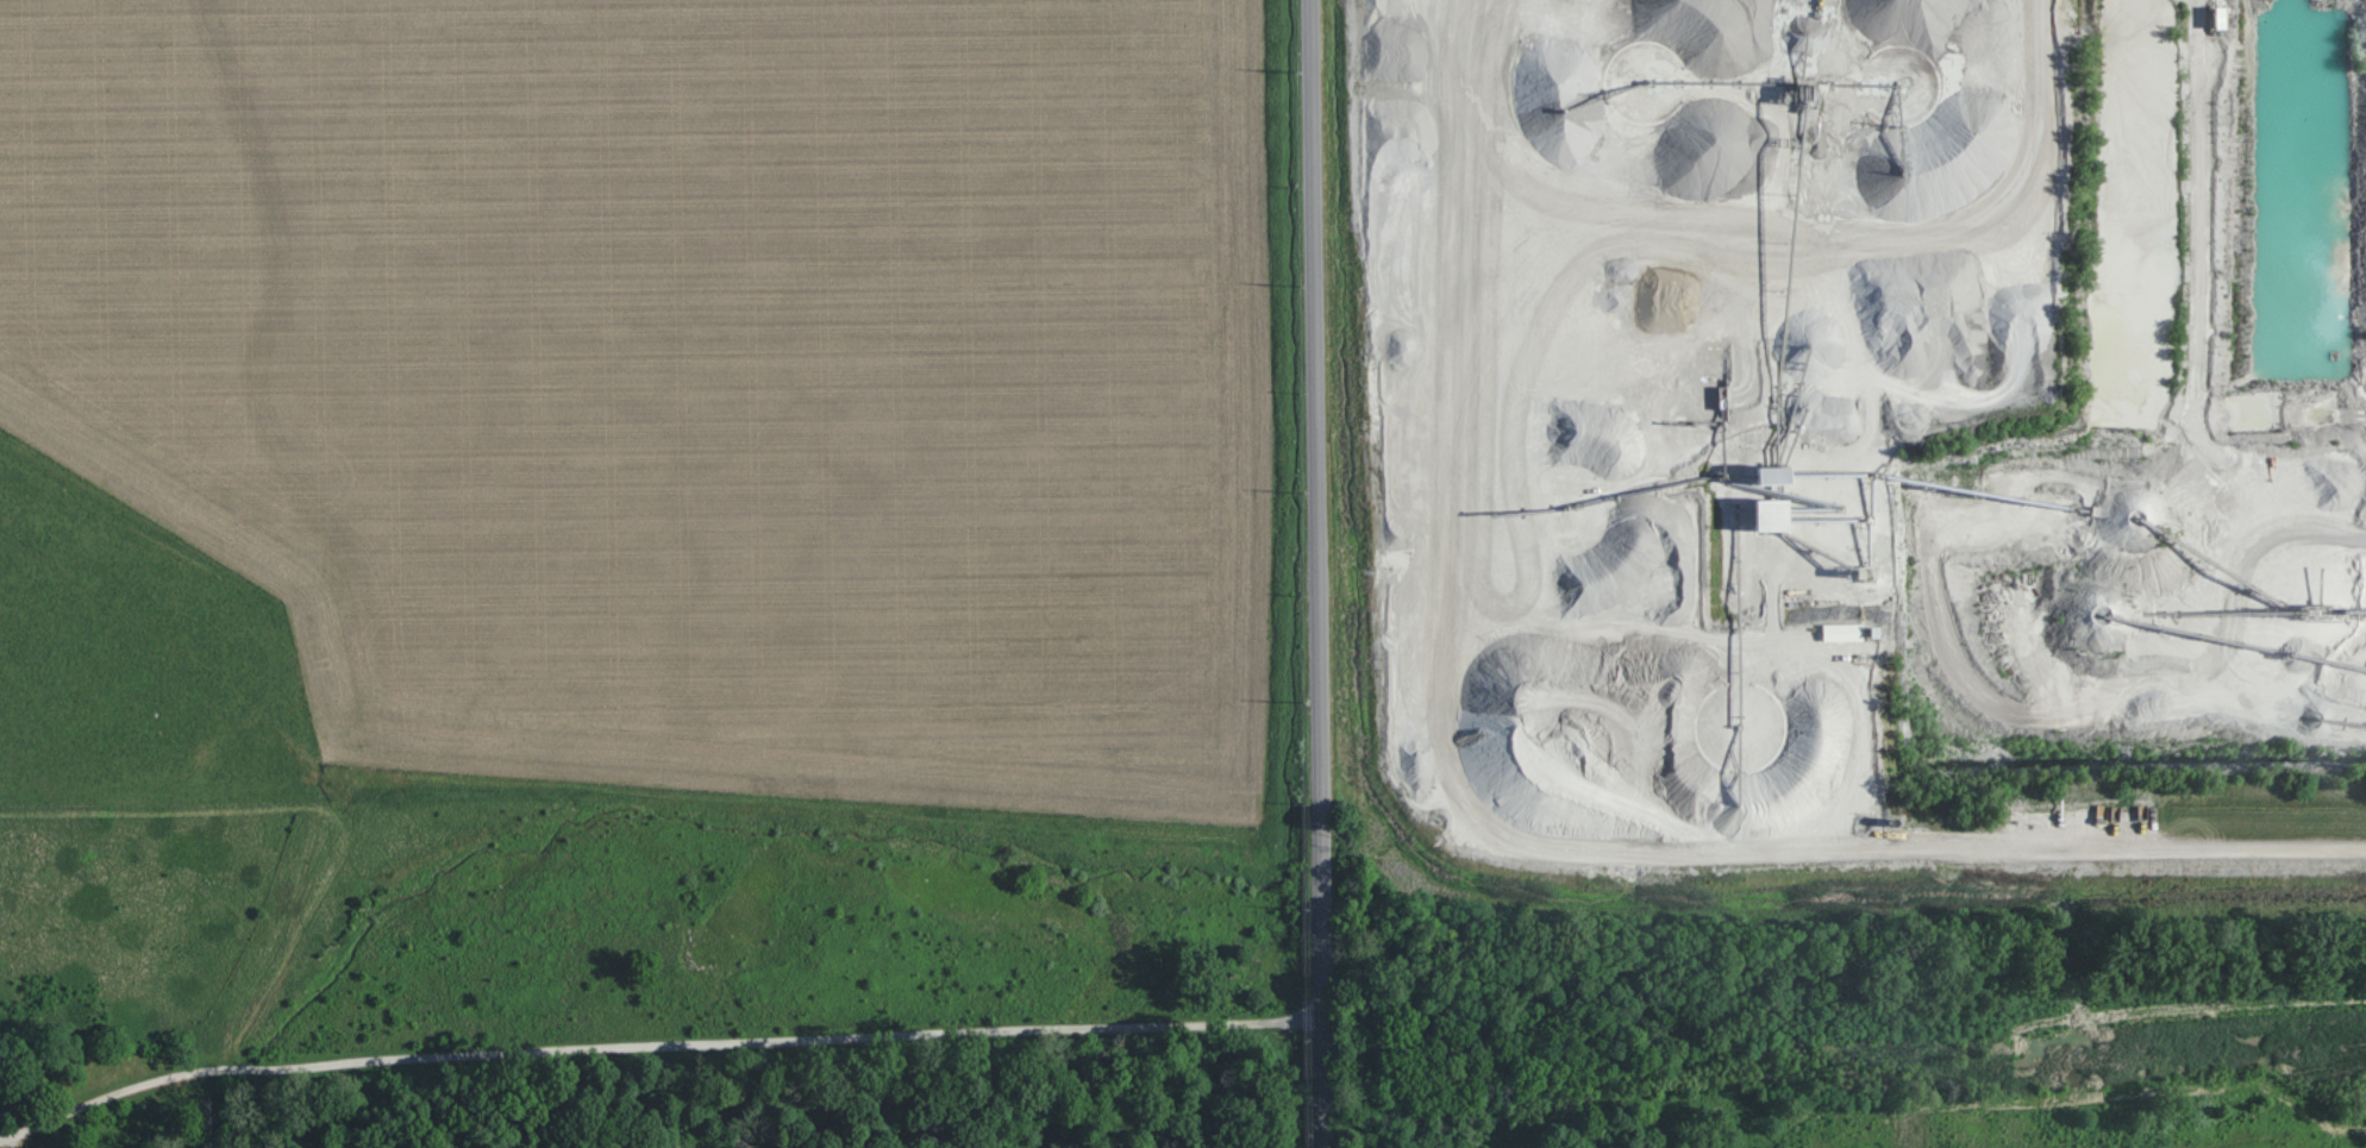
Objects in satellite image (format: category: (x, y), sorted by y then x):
quarry: (2002, 438)
building: (1774, 515)
road: (1312, 573)
building: (1844, 633)
road: (652, 1041)

